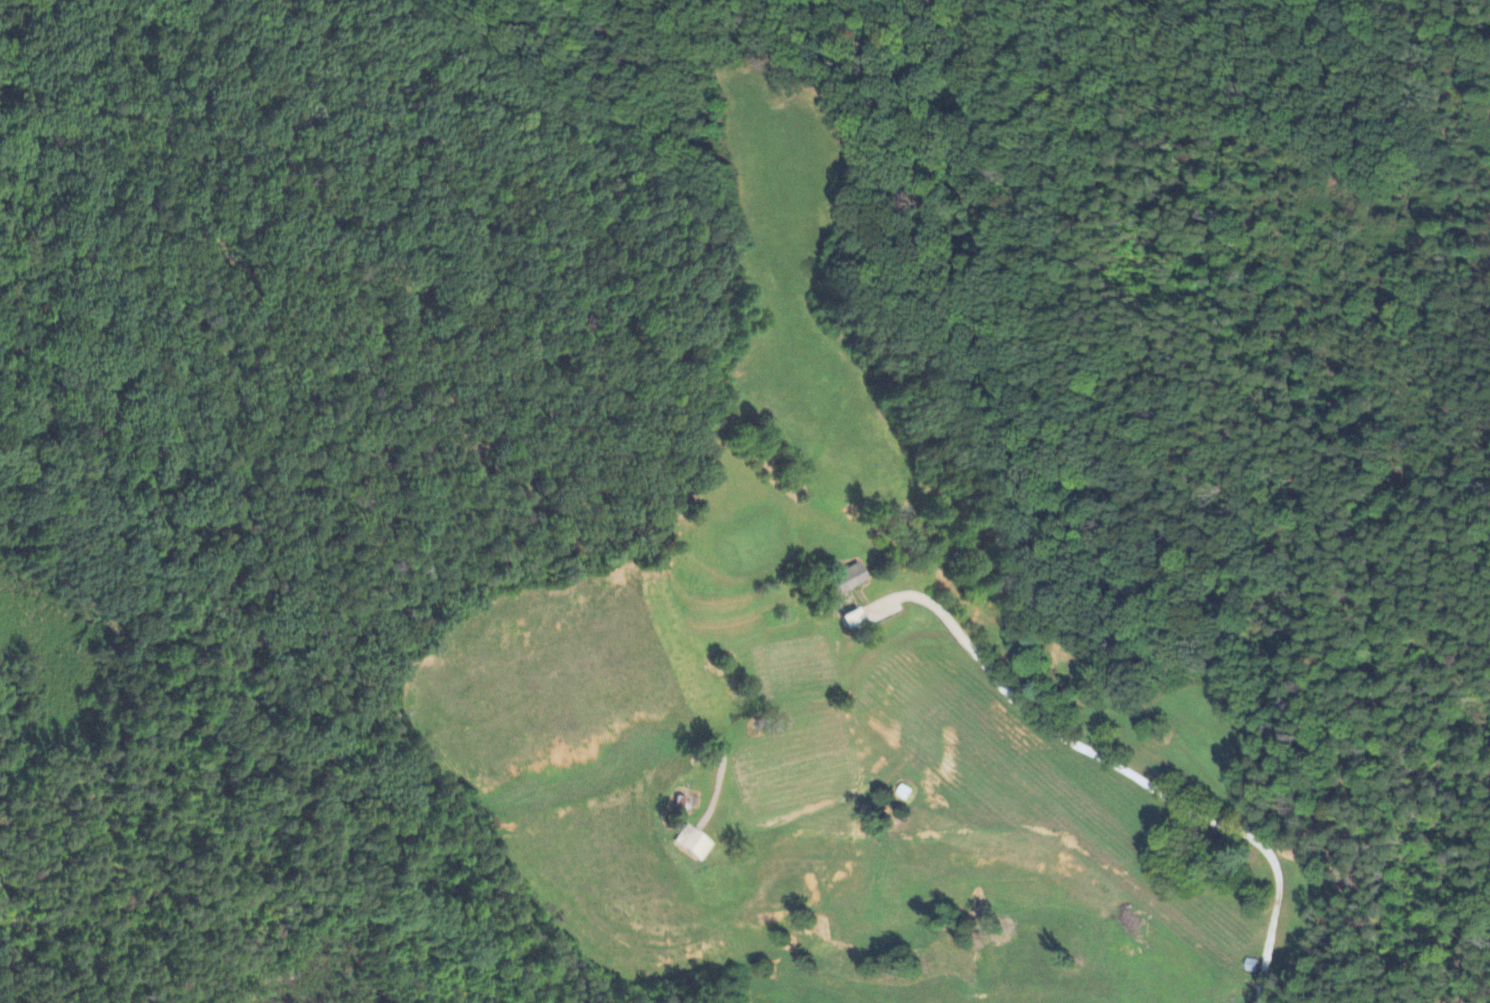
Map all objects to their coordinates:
building: (846, 581)
building: (874, 614)
road: (1047, 722)
building: (693, 844)
road: (1273, 920)

